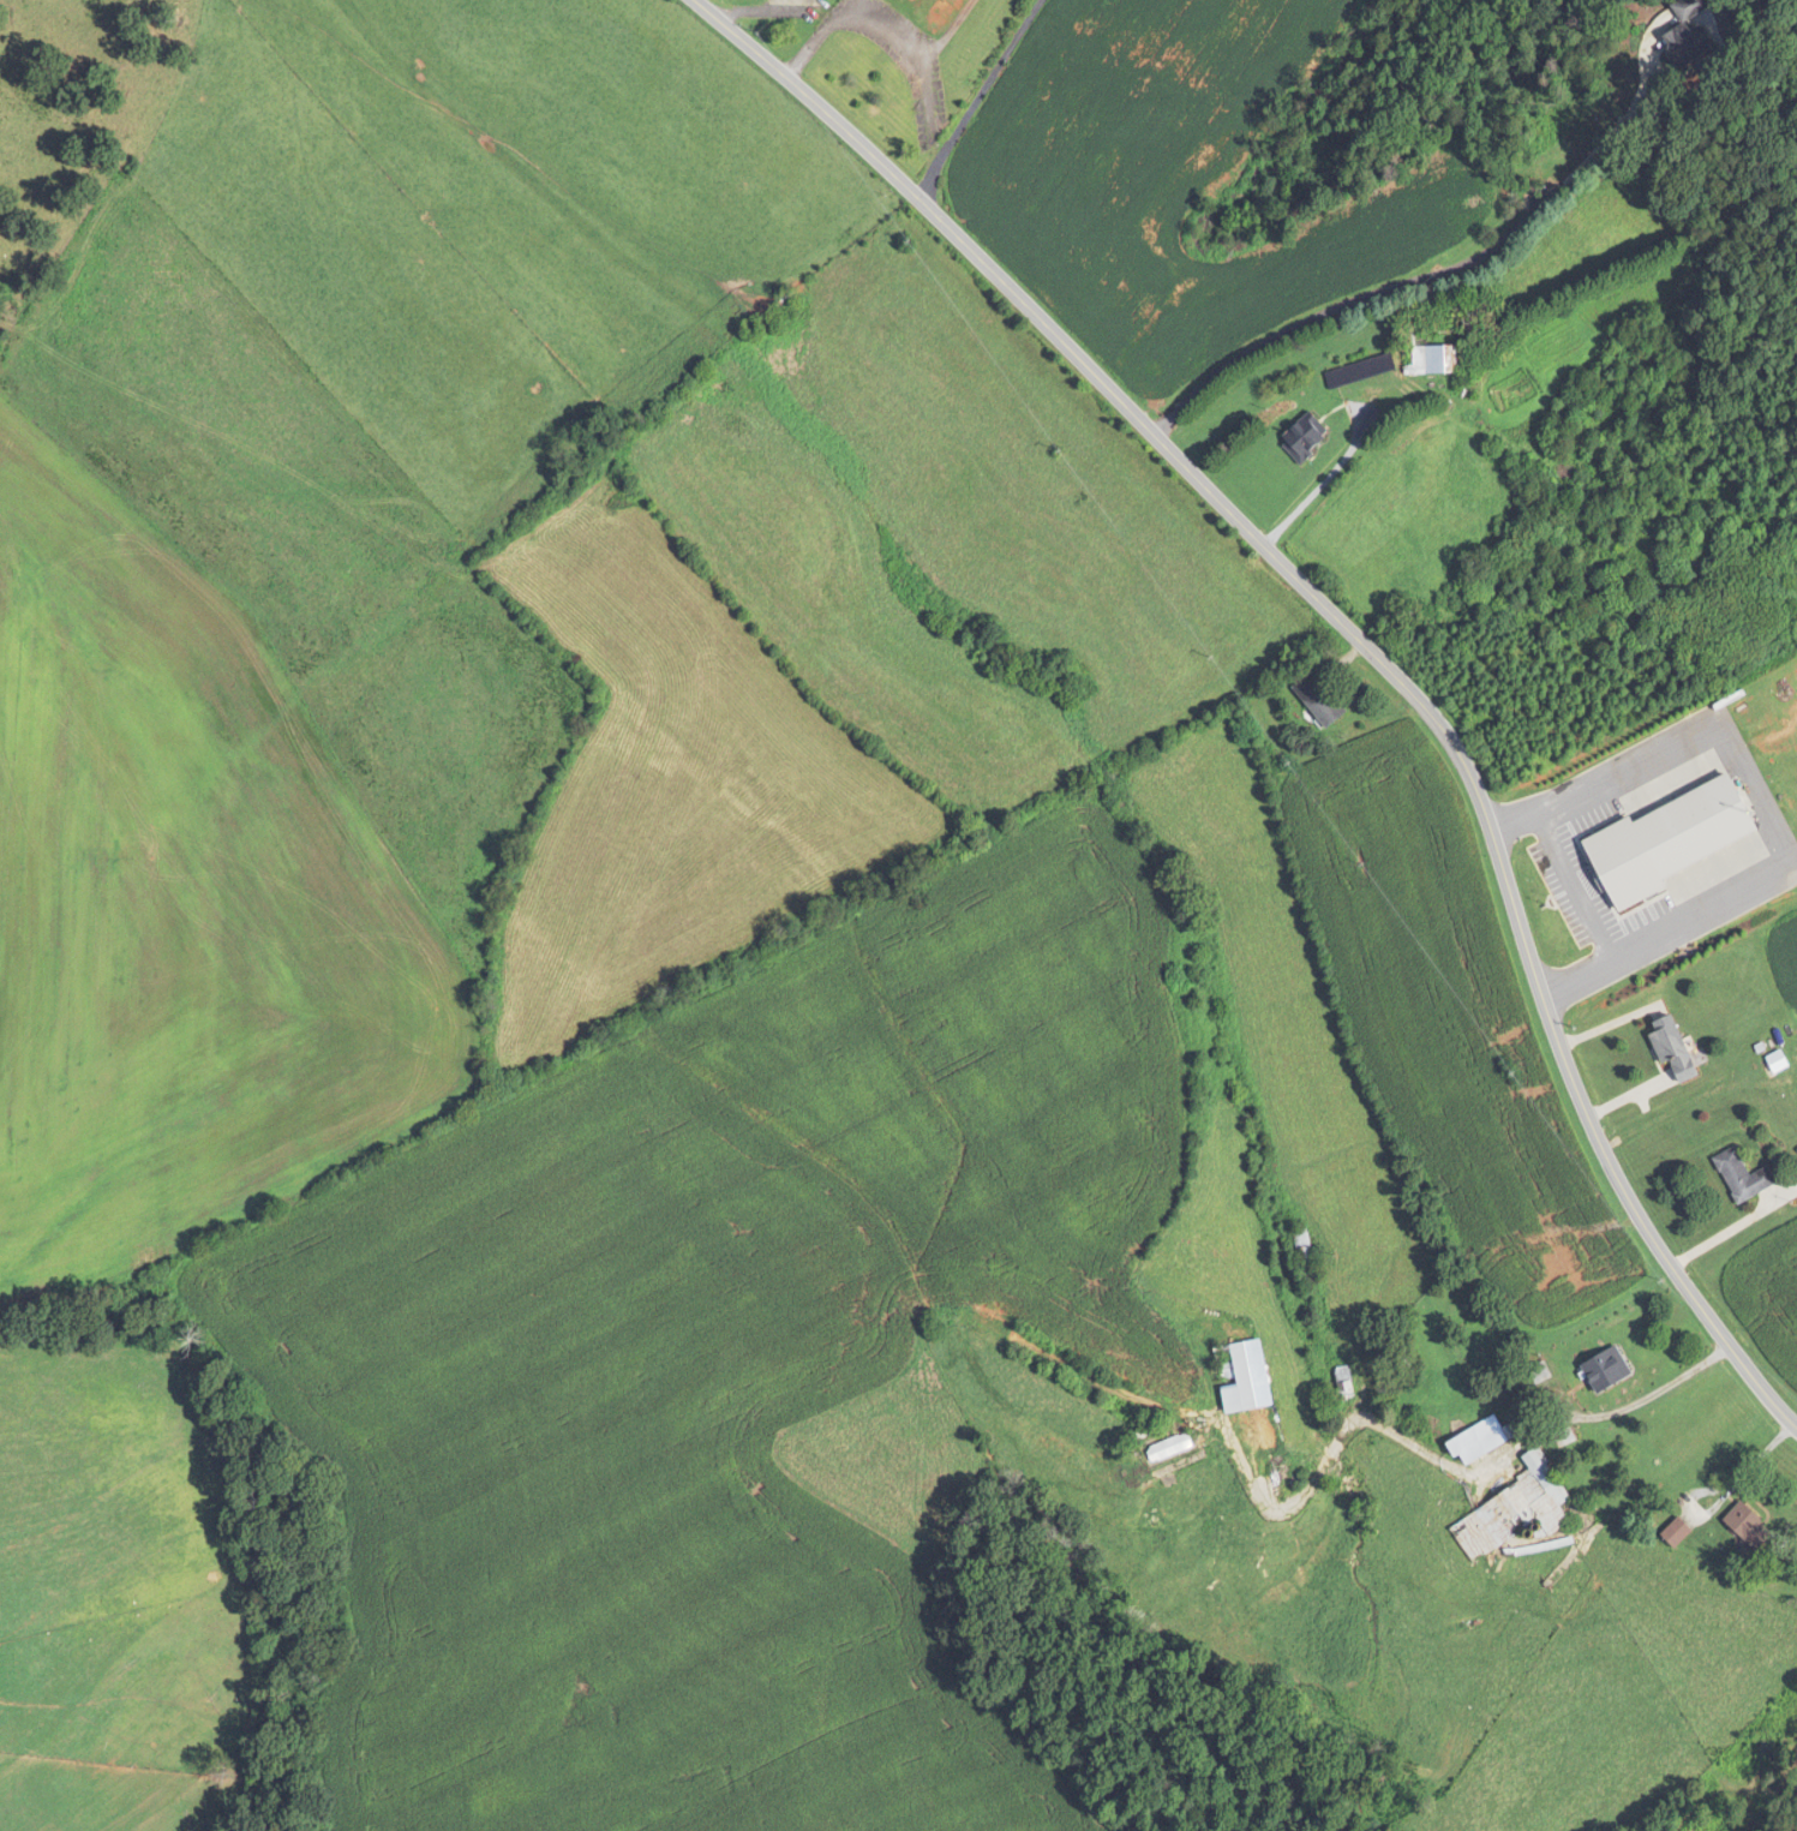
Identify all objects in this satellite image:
road: (880, 25)
building: (1696, 34)
road: (976, 98)
road: (1420, 280)
building: (790, 306)
building: (1368, 373)
building: (1314, 441)
road: (1323, 480)
road: (1269, 545)
building: (1324, 699)
road: (1760, 807)
road: (1571, 884)
building: (1682, 1047)
building: (1748, 1175)
building: (1307, 1257)
road: (1713, 1327)
building: (1615, 1371)
building: (1344, 1384)
building: (1256, 1401)
building: (1152, 1429)
building: (1484, 1441)
building: (1172, 1447)
building: (1517, 1510)
building: (1754, 1525)
building: (1682, 1531)
road: (1730, 1789)
building: (1699, 1830)

